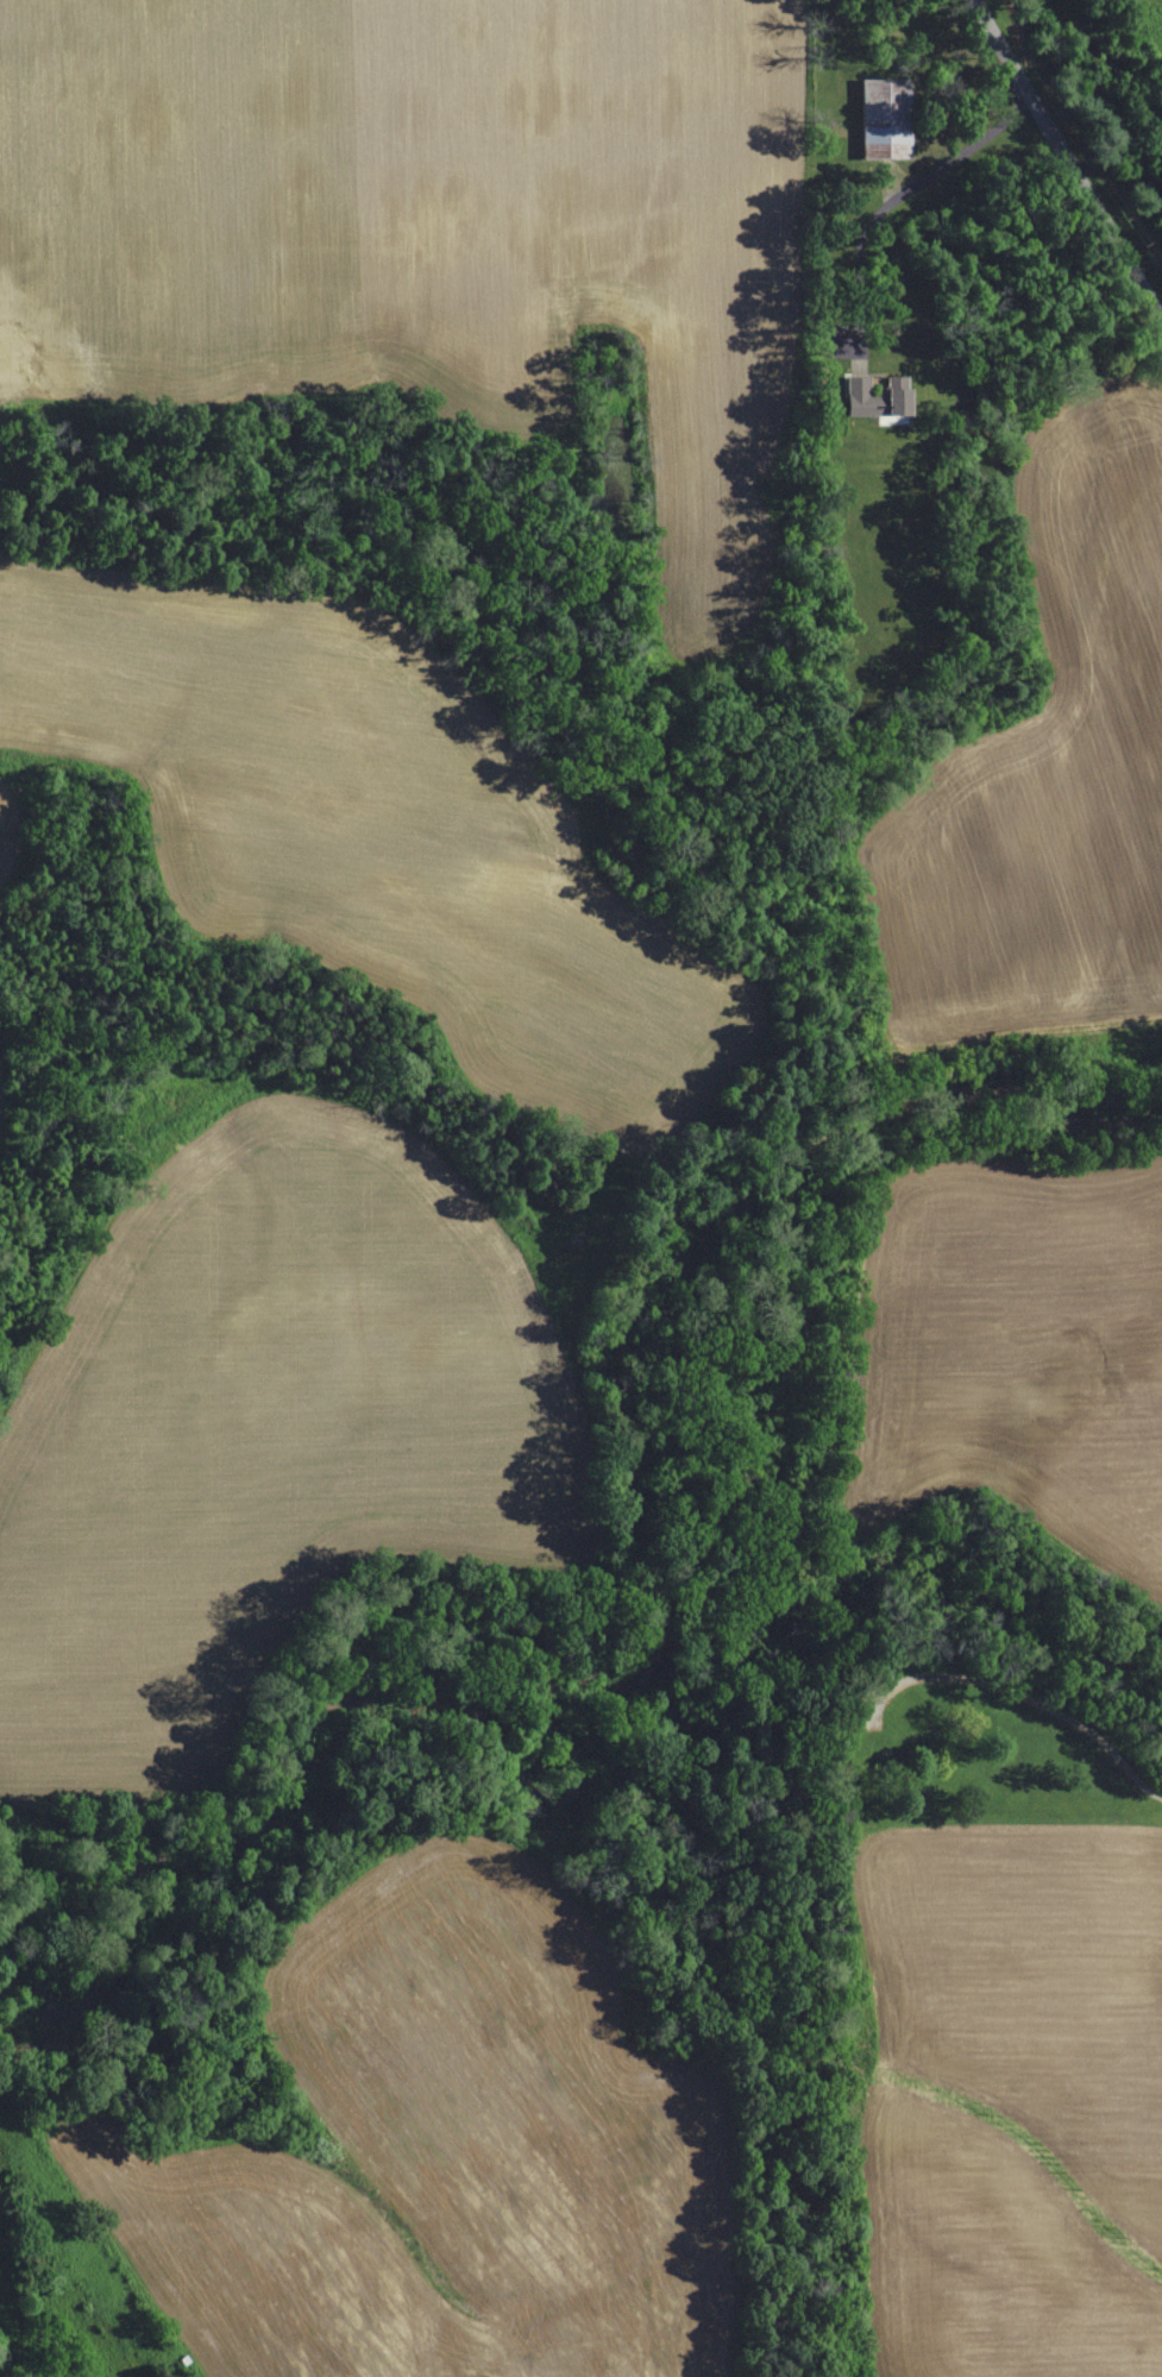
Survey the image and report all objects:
building: (879, 118)
road: (1068, 164)
road: (900, 200)
building: (873, 397)

